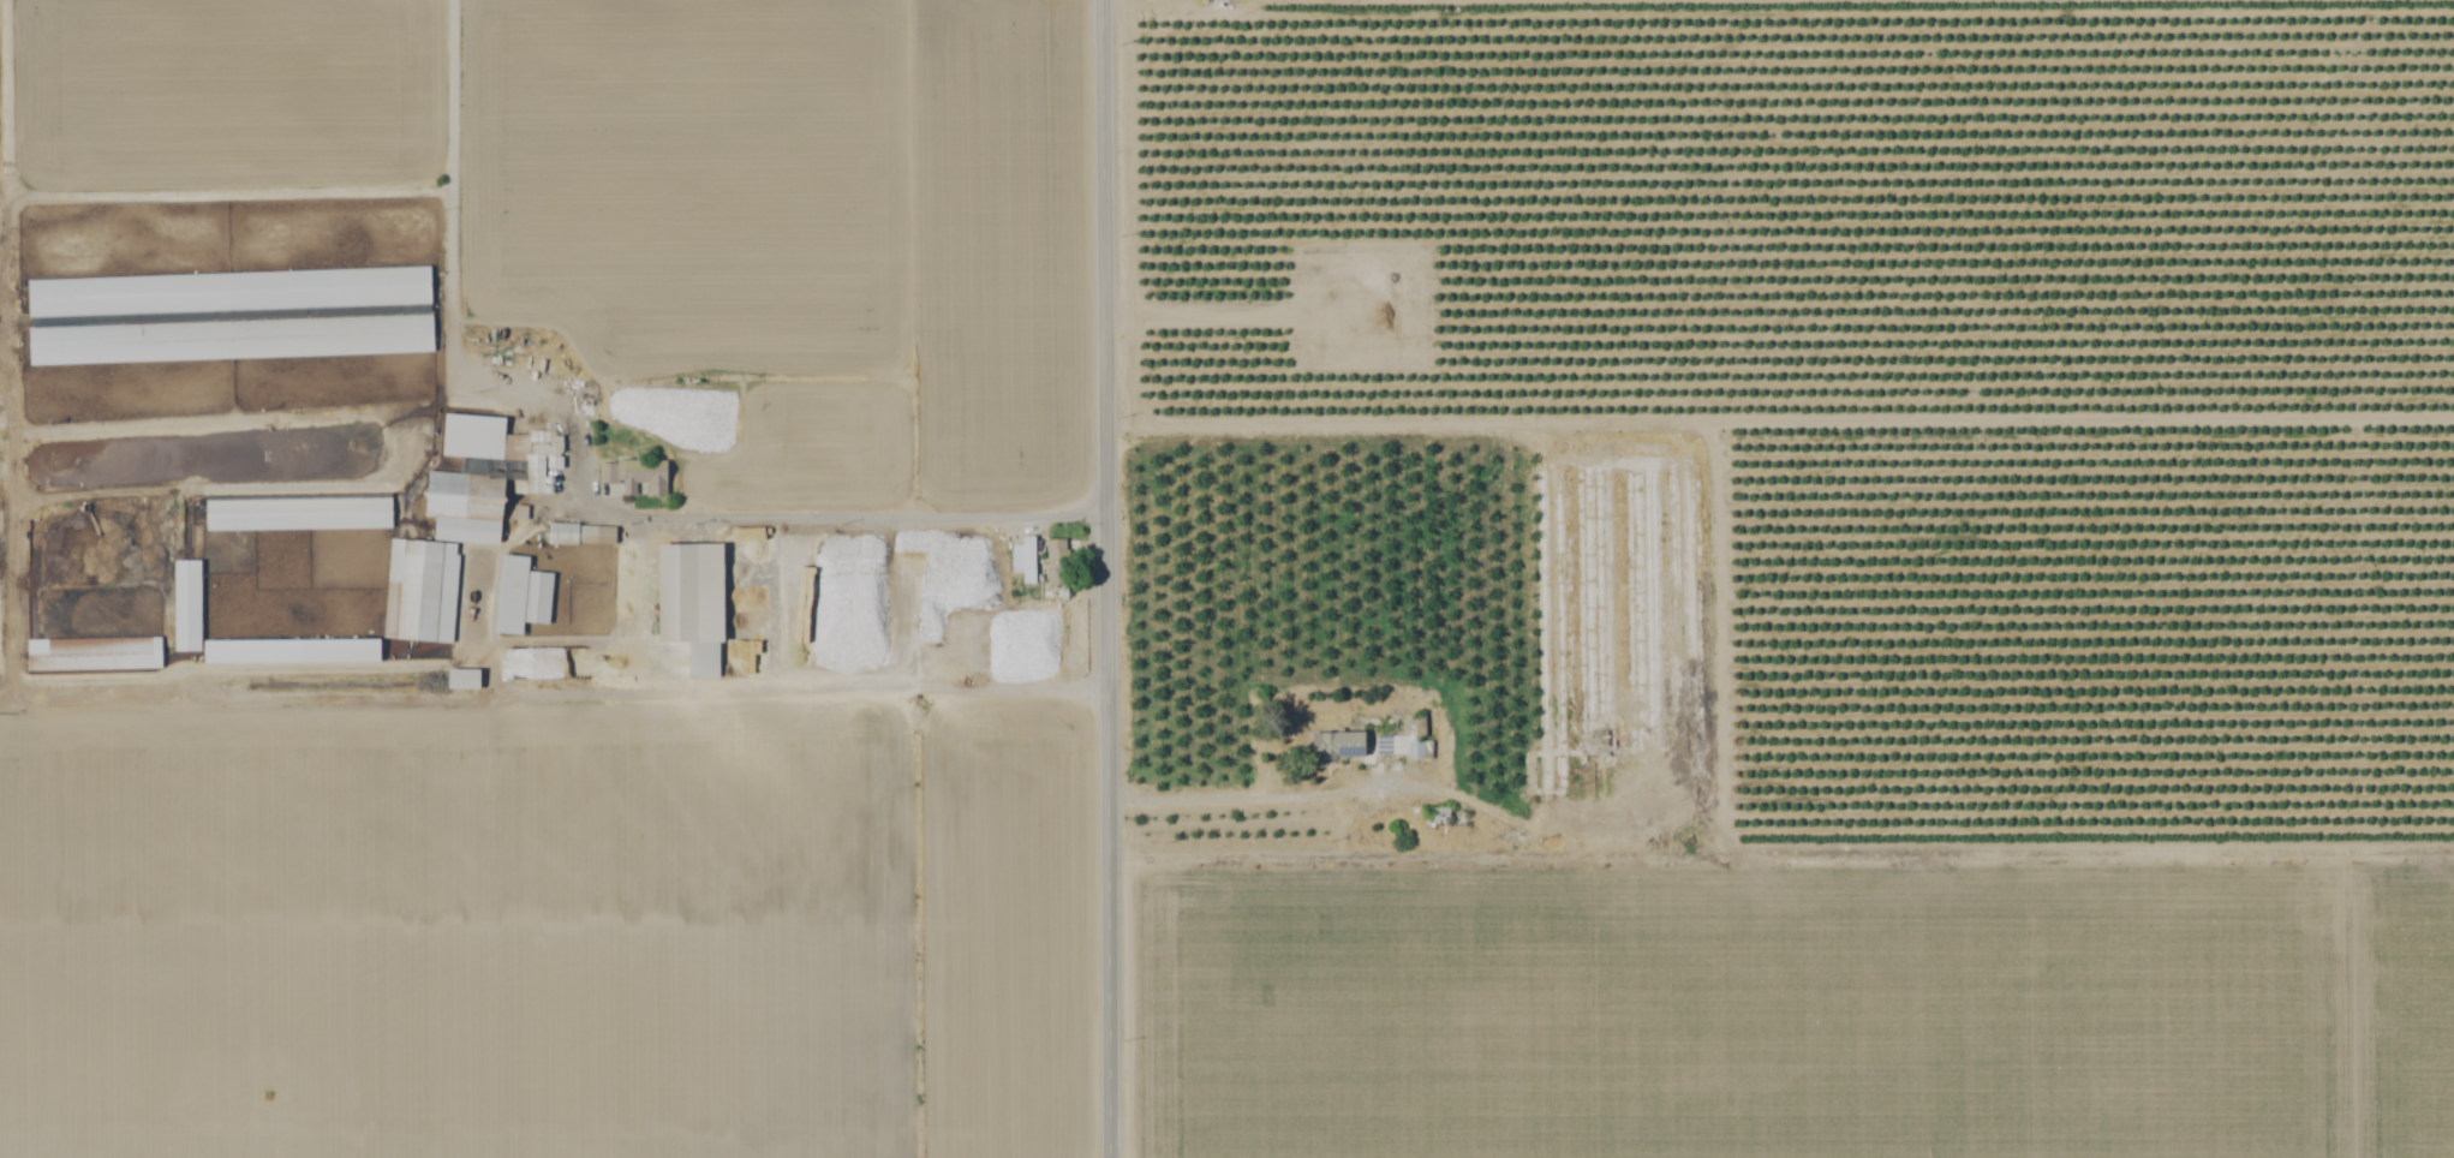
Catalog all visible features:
road: (452, 96)
building: (229, 294)
building: (231, 341)
building: (633, 476)
building: (298, 515)
road: (634, 515)
building: (458, 521)
building: (579, 533)
building: (1022, 559)
building: (1055, 561)
road: (1109, 578)
building: (900, 585)
building: (519, 595)
building: (688, 603)
building: (187, 608)
building: (94, 656)
building: (462, 679)
building: (1414, 740)
building: (1335, 746)

